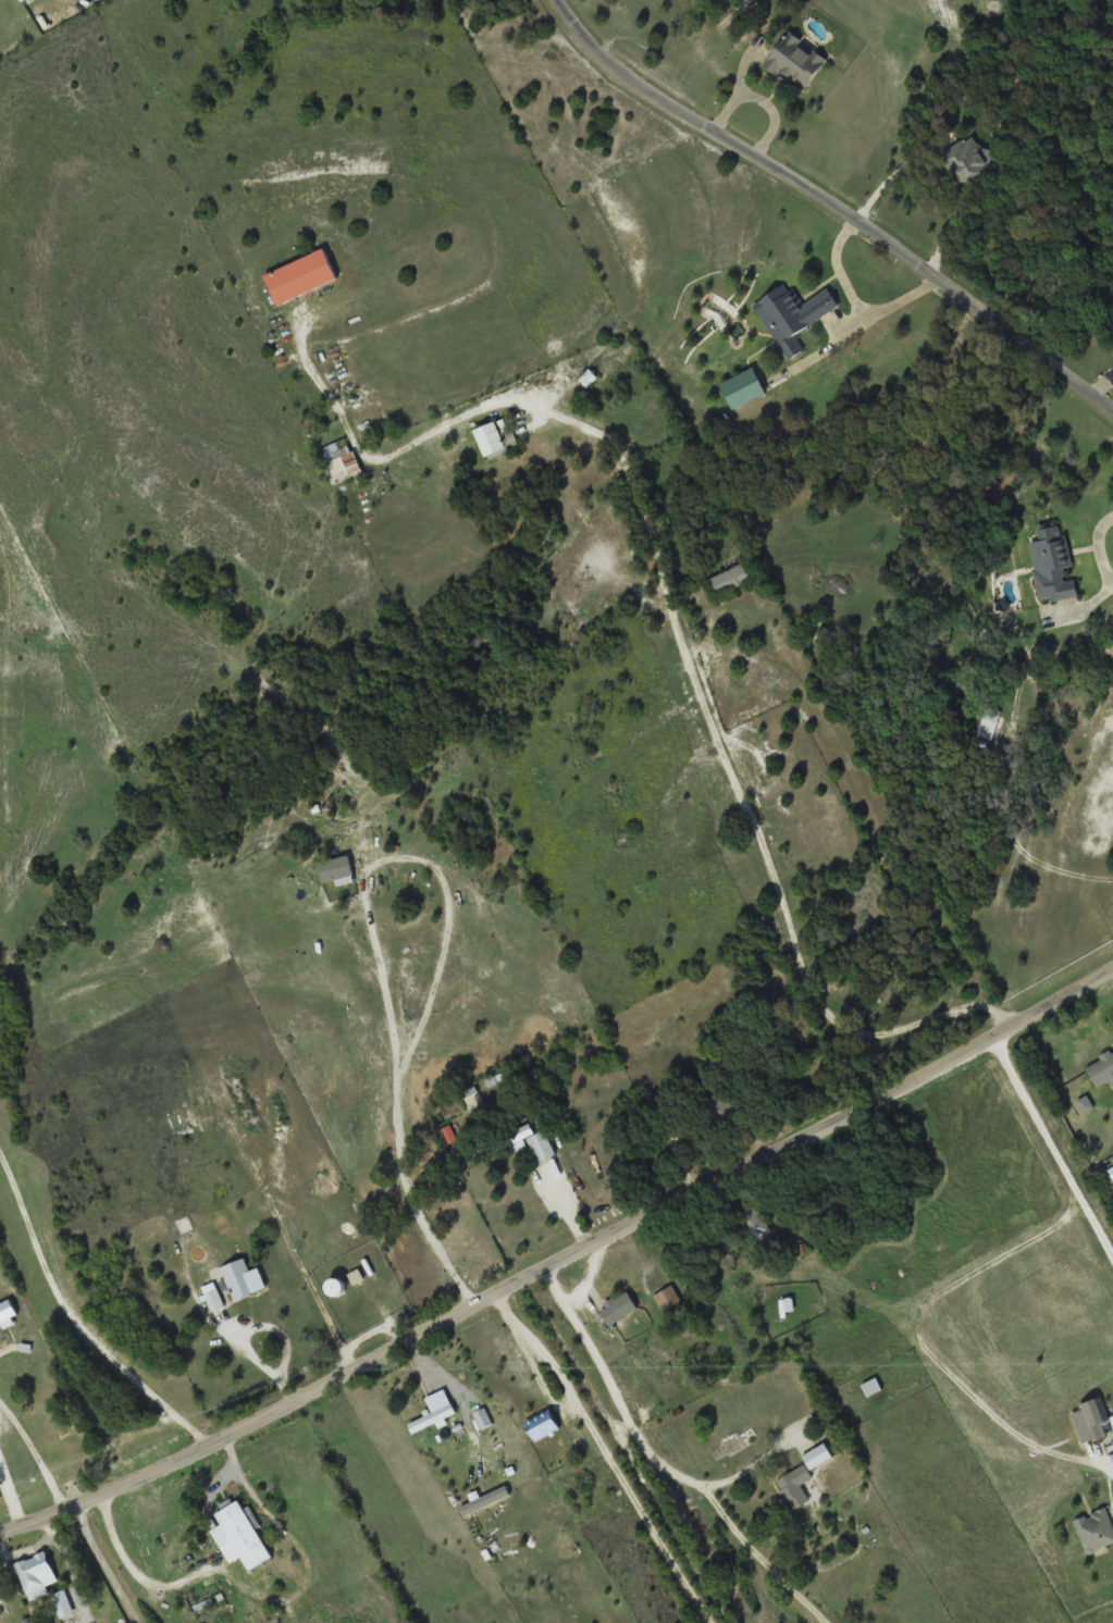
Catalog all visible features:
building: (24, 0)
building: (799, 59)
building: (976, 160)
road: (839, 200)
building: (302, 276)
building: (794, 317)
building: (590, 377)
road: (1102, 382)
building: (746, 387)
building: (494, 439)
building: (341, 462)
building: (1050, 562)
building: (731, 578)
building: (988, 721)
road: (769, 844)
building: (337, 869)
building: (1100, 1068)
building: (471, 1097)
road: (1034, 1113)
building: (539, 1143)
building: (755, 1225)
road: (1098, 1231)
road: (560, 1261)
building: (240, 1280)
building: (666, 1297)
building: (214, 1300)
road: (78, 1302)
building: (621, 1308)
building: (7, 1313)
road: (920, 1346)
road: (3, 1349)
building: (870, 1385)
building: (434, 1418)
building: (482, 1418)
building: (546, 1423)
building: (71, 1430)
road: (636, 1449)
road: (614, 1453)
road: (677, 1453)
road: (36, 1458)
building: (796, 1486)
building: (1095, 1528)
building: (244, 1536)
building: (32, 1574)
building: (3, 1598)

